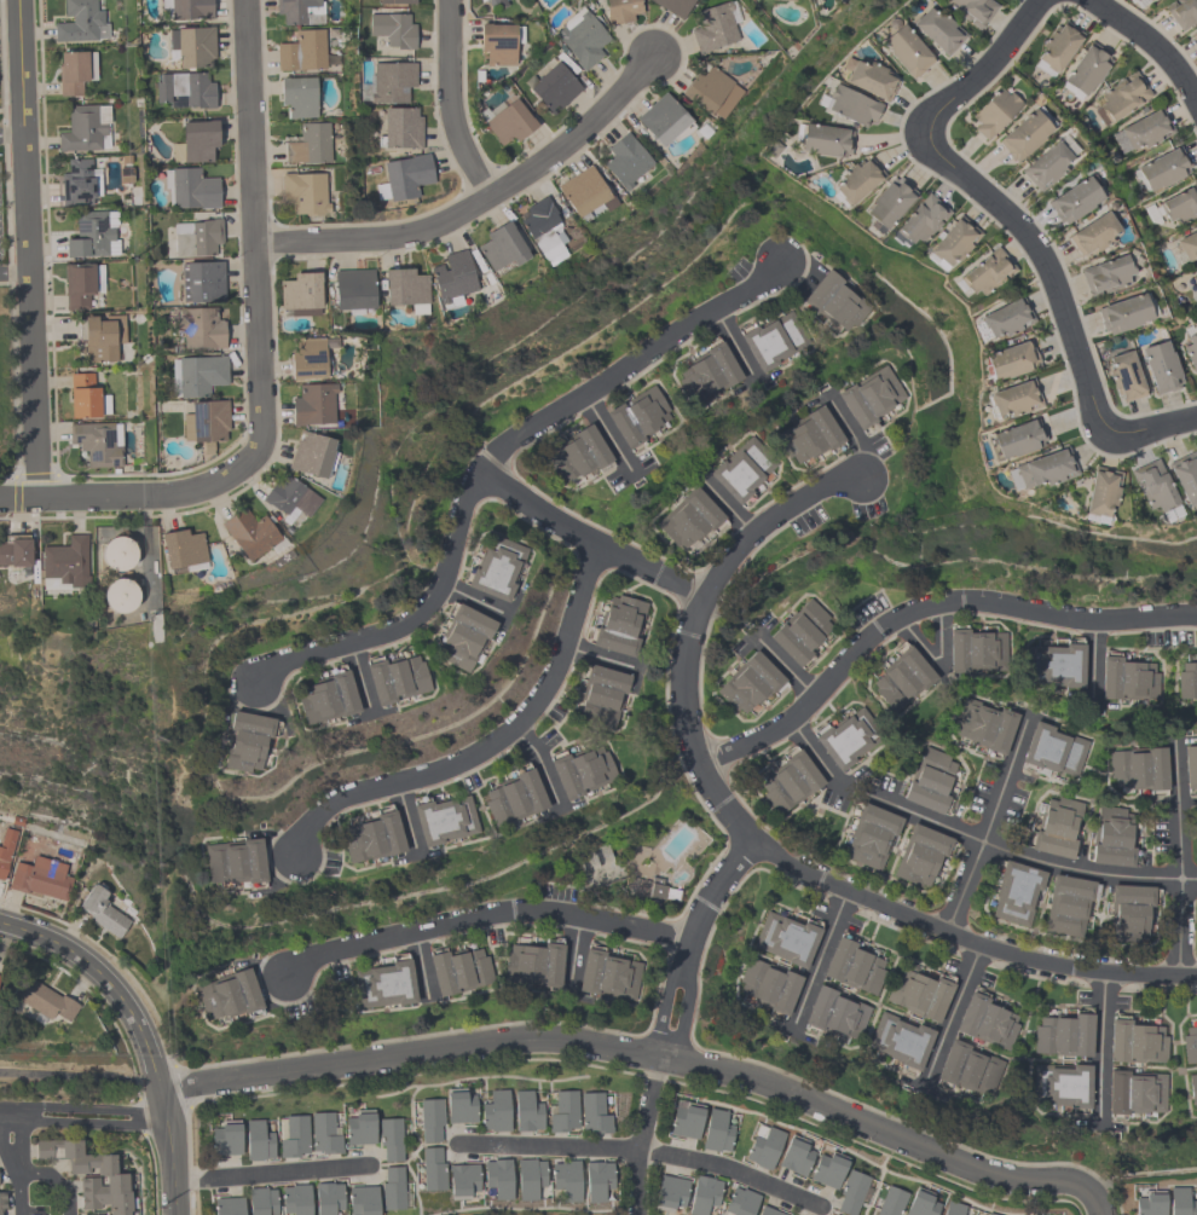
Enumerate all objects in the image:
building: (790, 0)
building: (395, 1)
building: (1134, 1)
building: (497, 2)
building: (673, 6)
building: (187, 8)
building: (620, 10)
building: (972, 10)
building: (300, 11)
building: (1181, 12)
building: (80, 22)
building: (712, 28)
building: (392, 29)
building: (938, 30)
building: (1193, 35)
building: (582, 37)
building: (499, 42)
road: (1152, 42)
building: (192, 46)
building: (1057, 47)
building: (302, 51)
building: (907, 51)
building: (75, 70)
building: (1086, 70)
road: (981, 71)
building: (869, 79)
building: (391, 82)
building: (554, 86)
building: (185, 89)
building: (711, 91)
building: (297, 96)
building: (1121, 98)
road: (449, 103)
building: (850, 104)
building: (993, 112)
building: (661, 120)
building: (507, 122)
building: (85, 128)
building: (400, 128)
building: (1143, 131)
road: (11, 132)
building: (1023, 135)
building: (823, 140)
building: (195, 141)
building: (308, 144)
building: (625, 160)
building: (1045, 164)
building: (1163, 168)
building: (403, 178)
building: (79, 181)
building: (856, 181)
building: (190, 189)
building: (305, 193)
building: (585, 193)
building: (1074, 199)
road: (478, 202)
building: (889, 202)
building: (1180, 204)
building: (919, 221)
building: (543, 230)
building: (93, 233)
road: (254, 235)
building: (1092, 235)
building: (198, 239)
building: (953, 242)
road: (638, 244)
building: (1189, 244)
building: (502, 247)
road: (25, 248)
road: (1045, 271)
road: (13, 273)
building: (985, 273)
building: (1105, 276)
building: (452, 278)
building: (1195, 279)
building: (202, 282)
building: (81, 284)
building: (405, 288)
building: (353, 289)
building: (300, 294)
building: (834, 301)
building: (1126, 313)
building: (1006, 318)
building: (199, 328)
building: (103, 337)
road: (734, 343)
building: (765, 345)
building: (1191, 351)
building: (310, 357)
building: (1012, 359)
road: (630, 361)
building: (1161, 366)
building: (706, 372)
building: (196, 375)
building: (1196, 375)
building: (1124, 376)
building: (86, 397)
building: (869, 397)
building: (1013, 399)
building: (313, 404)
building: (637, 416)
building: (206, 421)
road: (1151, 429)
road: (606, 432)
road: (851, 434)
building: (808, 435)
building: (1016, 439)
building: (98, 442)
building: (312, 455)
building: (577, 455)
building: (742, 469)
building: (1041, 469)
building: (1185, 476)
building: (1155, 488)
building: (1099, 493)
road: (126, 494)
building: (290, 498)
road: (727, 505)
building: (689, 517)
building: (249, 533)
road: (589, 538)
building: (181, 549)
building: (15, 550)
building: (118, 555)
building: (64, 563)
building: (496, 568)
building: (120, 595)
road: (473, 598)
road: (923, 607)
road: (411, 620)
building: (619, 625)
building: (800, 632)
building: (462, 637)
building: (975, 652)
road: (598, 655)
road: (1092, 660)
building: (1053, 665)
road: (785, 666)
road: (939, 670)
road: (359, 677)
building: (395, 678)
building: (902, 679)
building: (1127, 679)
building: (1186, 681)
building: (748, 682)
building: (601, 695)
building: (325, 698)
building: (983, 724)
building: (845, 737)
building: (245, 741)
road: (490, 744)
building: (1053, 750)
road: (816, 757)
road: (538, 759)
building: (1190, 765)
building: (1139, 769)
building: (580, 771)
road: (1004, 777)
building: (930, 781)
building: (788, 782)
building: (514, 798)
road: (1178, 809)
road: (404, 815)
road: (924, 816)
building: (443, 820)
building: (1057, 827)
building: (871, 835)
building: (1112, 837)
building: (371, 838)
road: (751, 840)
building: (5, 847)
building: (920, 855)
building: (235, 862)
road: (1080, 868)
building: (600, 869)
building: (40, 878)
road: (1189, 878)
road: (964, 885)
building: (660, 890)
building: (1016, 893)
building: (1066, 904)
building: (102, 910)
road: (484, 913)
building: (1128, 913)
road: (1180, 926)
building: (785, 938)
road: (690, 942)
road: (573, 955)
road: (817, 960)
road: (420, 964)
building: (533, 964)
building: (852, 966)
building: (458, 971)
building: (607, 974)
building: (0, 977)
road: (104, 977)
building: (384, 984)
building: (767, 985)
building: (919, 994)
building: (225, 995)
building: (45, 1001)
road: (953, 1009)
building: (833, 1013)
building: (987, 1022)
building: (1063, 1035)
building: (898, 1040)
building: (1135, 1042)
building: (1190, 1045)
road: (1100, 1046)
road: (409, 1052)
building: (967, 1069)
road: (79, 1076)
building: (1060, 1084)
building: (1192, 1089)
building: (1133, 1092)
road: (93, 1106)
building: (459, 1106)
road: (13, 1110)
building: (496, 1111)
building: (526, 1111)
building: (563, 1111)
building: (594, 1113)
building: (430, 1119)
building: (686, 1119)
road: (93, 1123)
building: (360, 1127)
building: (716, 1132)
road: (886, 1132)
building: (324, 1134)
road: (641, 1134)
building: (294, 1136)
building: (226, 1138)
building: (391, 1138)
building: (258, 1140)
road: (8, 1141)
road: (548, 1145)
building: (764, 1147)
road: (168, 1149)
building: (796, 1156)
road: (729, 1168)
building: (432, 1169)
building: (827, 1169)
road: (37, 1171)
road: (271, 1173)
building: (498, 1178)
building: (530, 1178)
building: (566, 1179)
building: (462, 1180)
building: (596, 1180)
building: (116, 1181)
building: (392, 1188)
building: (851, 1192)
building: (669, 1193)
building: (702, 1194)
building: (328, 1197)
building: (295, 1199)
building: (1, 1200)
building: (261, 1200)
building: (362, 1200)
building: (740, 1202)
building: (891, 1202)
building: (1181, 1202)
building: (921, 1203)
building: (1150, 1203)
building: (229, 1205)
building: (953, 1208)
building: (768, 1211)
building: (94, 1214)
building: (831, 1214)
building: (988, 1214)

